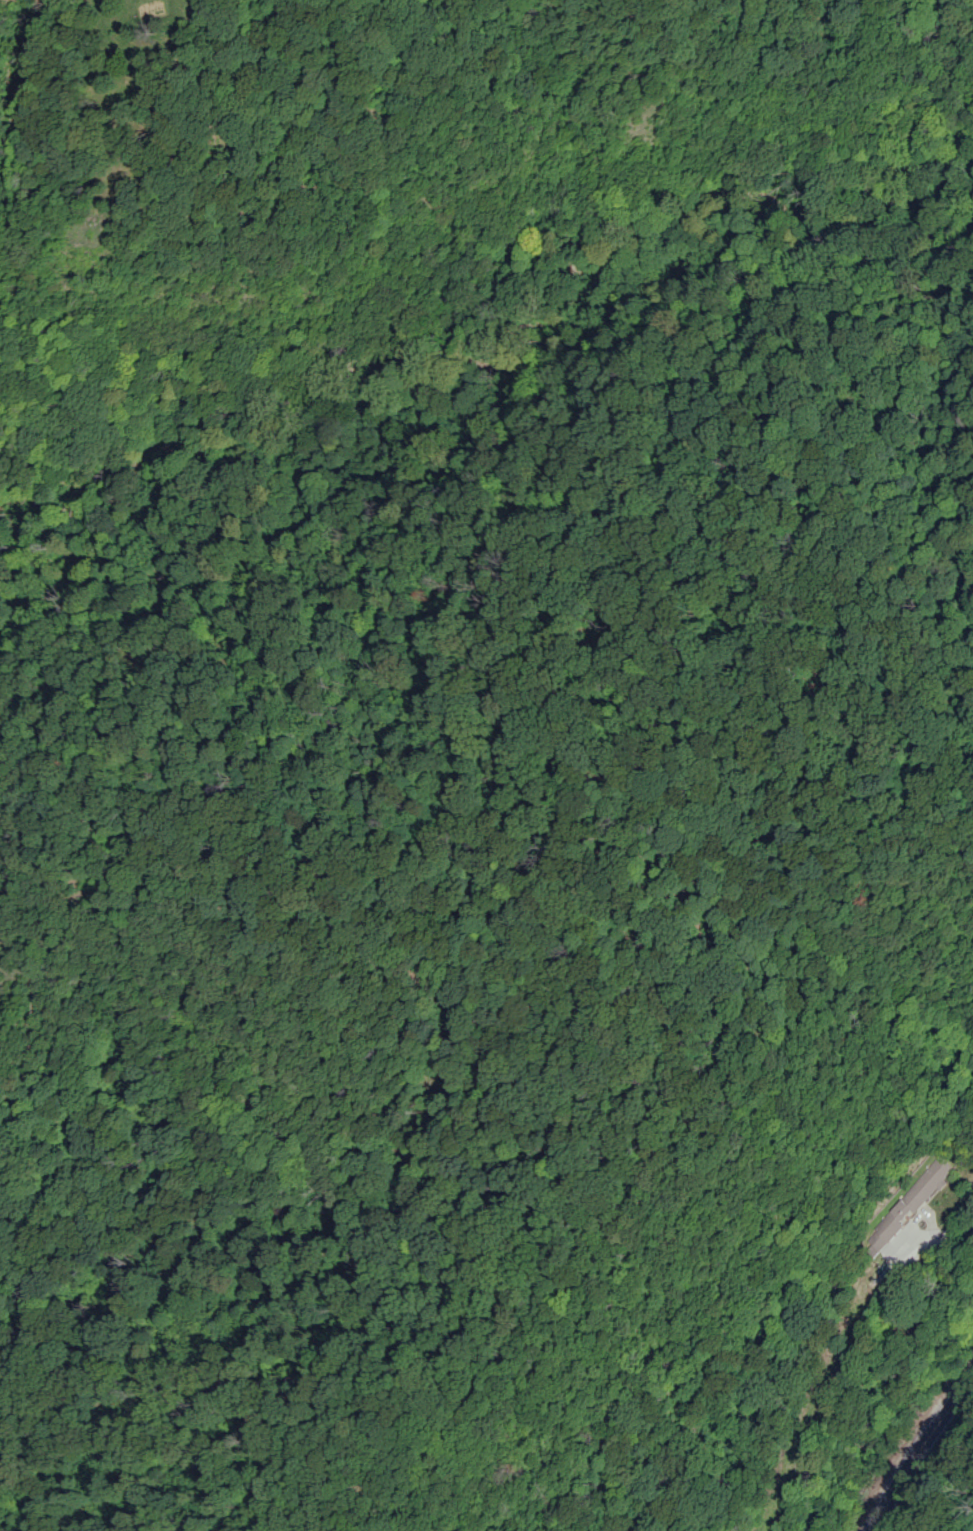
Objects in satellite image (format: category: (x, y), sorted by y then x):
building: (907, 1202)
road: (940, 1231)
road: (918, 1451)

